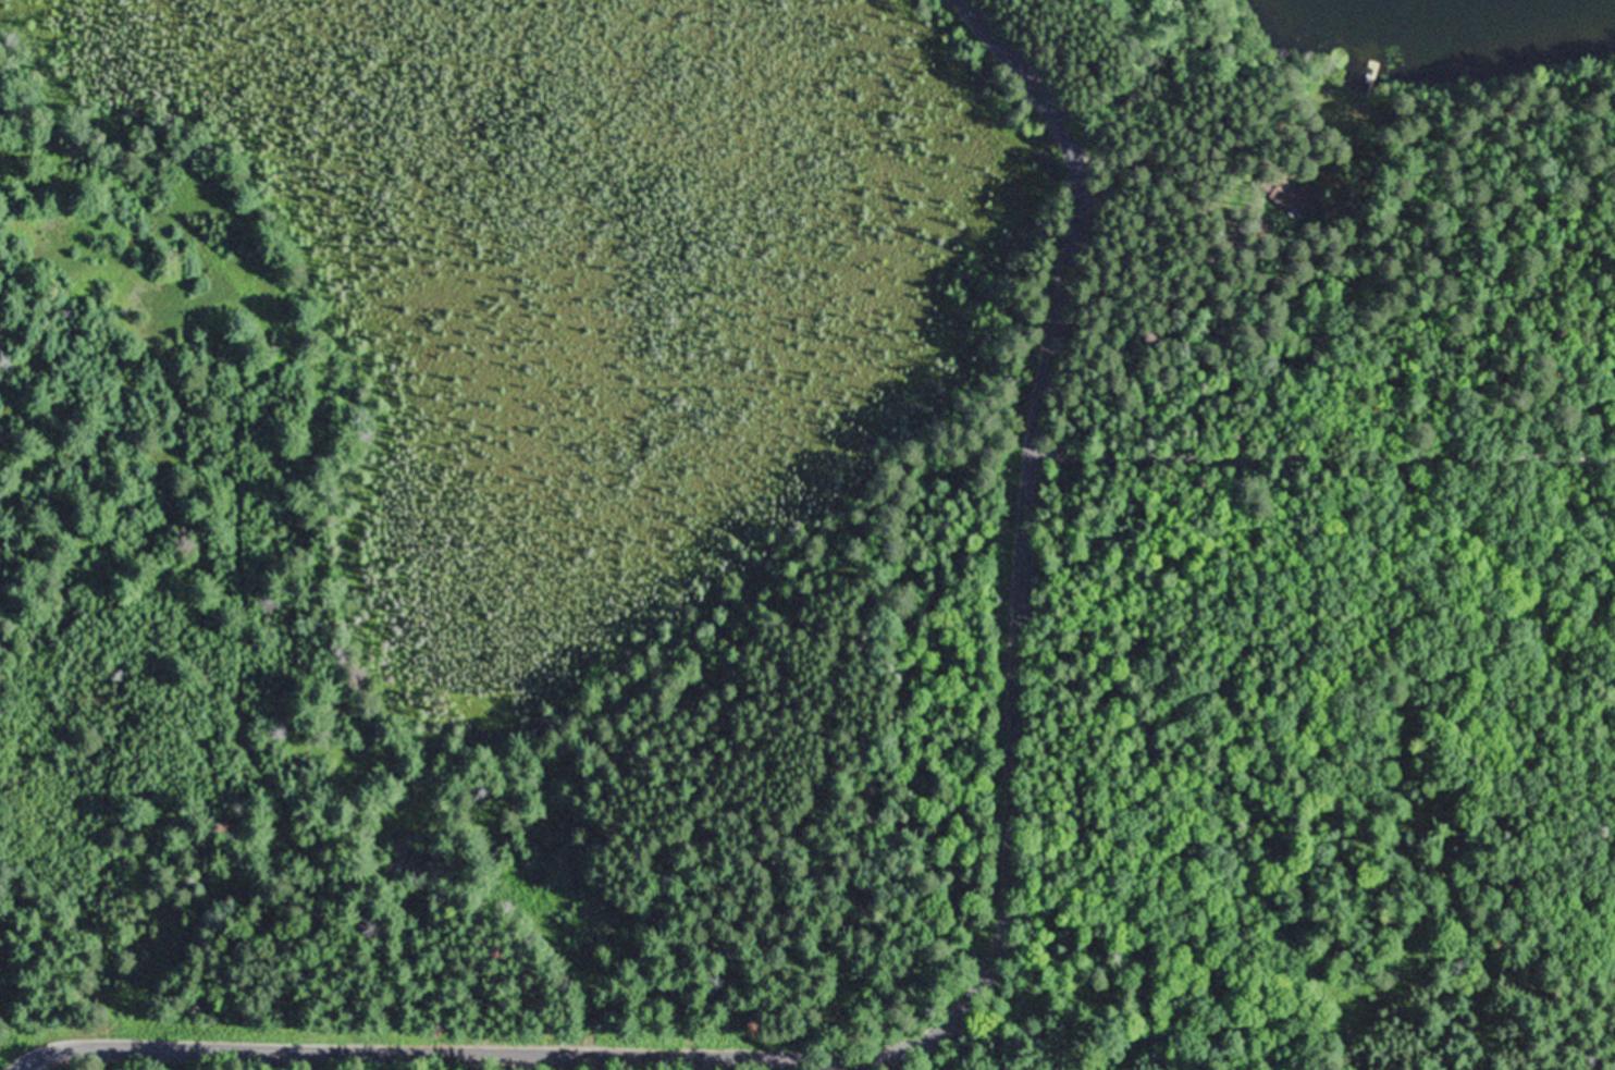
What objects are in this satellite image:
road: (1324, 455)
road: (993, 970)

